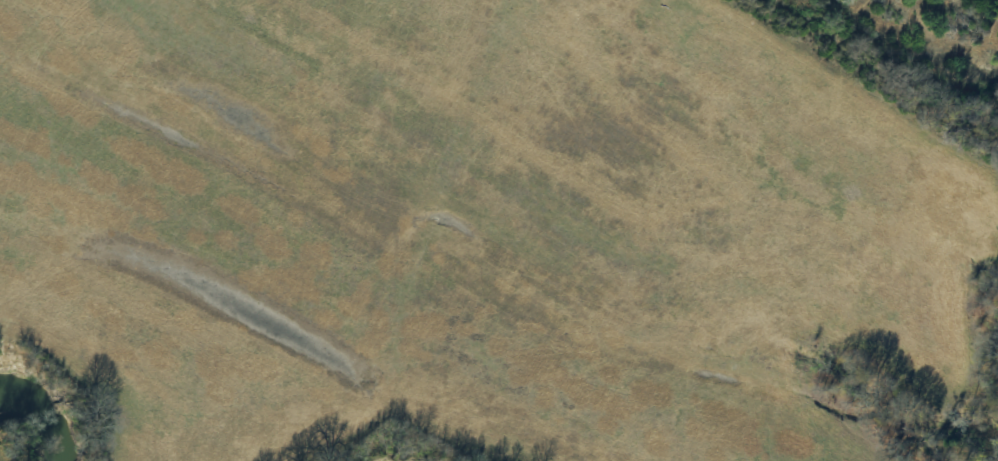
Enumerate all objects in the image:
river: (45, 410)

